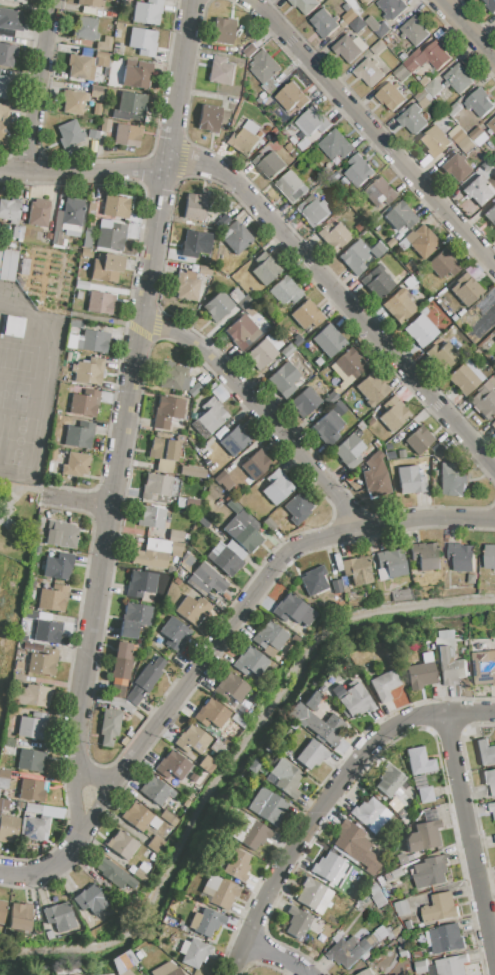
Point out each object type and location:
building: (18, 1)
building: (350, 1)
building: (365, 1)
building: (124, 2)
building: (85, 3)
building: (304, 5)
building: (491, 5)
building: (392, 8)
building: (148, 12)
building: (349, 13)
building: (11, 20)
building: (324, 23)
building: (358, 24)
building: (377, 26)
building: (87, 29)
road: (468, 29)
building: (414, 30)
building: (223, 31)
building: (141, 39)
building: (107, 43)
building: (349, 47)
building: (378, 47)
building: (250, 50)
building: (436, 54)
building: (7, 55)
building: (403, 56)
building: (416, 60)
building: (264, 66)
building: (81, 68)
building: (220, 71)
building: (368, 72)
building: (401, 72)
building: (136, 75)
building: (458, 77)
building: (425, 81)
road: (180, 82)
road: (37, 85)
building: (270, 85)
building: (5, 86)
building: (434, 86)
building: (97, 92)
building: (421, 94)
building: (391, 96)
building: (291, 97)
building: (423, 102)
building: (479, 102)
building: (74, 103)
building: (131, 107)
building: (96, 109)
building: (453, 109)
building: (209, 119)
building: (413, 119)
building: (313, 120)
building: (4, 122)
building: (492, 124)
building: (105, 126)
road: (374, 130)
building: (70, 133)
building: (92, 134)
building: (457, 134)
building: (126, 135)
building: (478, 135)
building: (244, 139)
building: (434, 141)
building: (304, 143)
building: (335, 144)
building: (466, 144)
building: (269, 164)
building: (456, 167)
road: (83, 171)
building: (358, 171)
building: (291, 187)
building: (478, 190)
building: (378, 192)
building: (115, 207)
building: (195, 207)
building: (90, 210)
building: (314, 210)
building: (12, 212)
building: (39, 213)
building: (490, 215)
building: (399, 216)
building: (69, 217)
building: (223, 221)
building: (111, 235)
building: (333, 236)
building: (87, 237)
building: (235, 237)
building: (57, 239)
building: (421, 240)
building: (195, 243)
building: (390, 243)
building: (378, 250)
building: (0, 251)
building: (354, 258)
building: (8, 264)
building: (443, 264)
building: (410, 266)
building: (106, 268)
building: (264, 269)
building: (205, 271)
building: (378, 282)
building: (410, 282)
building: (81, 285)
building: (186, 286)
building: (284, 291)
building: (463, 293)
building: (236, 295)
building: (79, 296)
road: (341, 299)
building: (244, 302)
building: (100, 303)
building: (218, 306)
building: (399, 309)
building: (306, 316)
building: (483, 323)
building: (75, 324)
building: (13, 326)
building: (420, 331)
building: (242, 333)
building: (273, 340)
building: (494, 340)
building: (328, 341)
building: (494, 341)
building: (92, 342)
building: (287, 350)
building: (262, 354)
building: (443, 357)
building: (317, 362)
building: (349, 363)
building: (84, 372)
building: (174, 377)
building: (465, 377)
building: (284, 379)
building: (372, 389)
building: (194, 390)
building: (220, 394)
building: (330, 398)
building: (484, 400)
building: (305, 402)
building: (84, 403)
building: (167, 412)
road: (258, 412)
building: (393, 414)
building: (209, 418)
building: (492, 426)
building: (327, 428)
building: (365, 431)
building: (79, 435)
building: (418, 440)
building: (234, 441)
building: (348, 451)
building: (52, 453)
building: (164, 454)
building: (252, 462)
building: (75, 466)
road: (116, 467)
building: (192, 472)
building: (375, 475)
building: (453, 479)
building: (223, 480)
building: (410, 480)
building: (276, 487)
building: (156, 488)
road: (78, 500)
building: (191, 504)
building: (298, 508)
building: (242, 515)
building: (151, 517)
building: (204, 522)
building: (268, 524)
building: (61, 534)
building: (242, 534)
building: (175, 536)
building: (175, 550)
building: (152, 554)
building: (425, 555)
building: (462, 556)
building: (490, 556)
building: (226, 557)
building: (336, 563)
building: (390, 564)
building: (58, 566)
building: (170, 570)
building: (357, 570)
building: (205, 580)
building: (314, 581)
road: (262, 582)
park: (13, 584)
building: (140, 584)
building: (336, 587)
building: (53, 598)
building: (192, 610)
building: (293, 610)
building: (29, 614)
building: (131, 620)
building: (47, 632)
building: (174, 634)
building: (269, 636)
building: (43, 662)
building: (248, 662)
building: (484, 664)
building: (450, 665)
building: (120, 669)
building: (421, 672)
building: (149, 674)
building: (384, 685)
building: (231, 688)
building: (33, 696)
building: (133, 697)
building: (352, 699)
building: (311, 702)
building: (122, 705)
building: (211, 714)
building: (318, 725)
building: (33, 726)
building: (110, 727)
building: (191, 740)
building: (485, 753)
building: (312, 754)
building: (31, 760)
building: (419, 761)
building: (172, 765)
building: (206, 766)
road: (237, 770)
building: (286, 777)
road: (92, 778)
building: (490, 780)
building: (388, 781)
building: (32, 791)
building: (156, 791)
building: (425, 794)
road: (326, 799)
road: (73, 802)
building: (267, 806)
road: (95, 807)
building: (33, 808)
building: (492, 808)
building: (397, 809)
building: (367, 812)
building: (140, 818)
building: (169, 819)
building: (35, 827)
building: (8, 828)
building: (248, 832)
building: (423, 834)
building: (494, 836)
road: (469, 838)
building: (156, 842)
building: (356, 843)
building: (122, 845)
building: (150, 855)
road: (47, 866)
building: (238, 866)
building: (325, 866)
building: (143, 867)
building: (431, 871)
building: (114, 874)
building: (396, 874)
building: (139, 875)
building: (218, 892)
building: (313, 895)
building: (376, 895)
building: (88, 898)
building: (402, 907)
building: (440, 907)
building: (2, 911)
building: (59, 916)
building: (21, 918)
building: (206, 922)
building: (297, 922)
building: (446, 939)
building: (349, 951)
building: (192, 952)
road: (276, 956)
building: (452, 965)
building: (421, 966)
building: (167, 969)
building: (366, 972)

